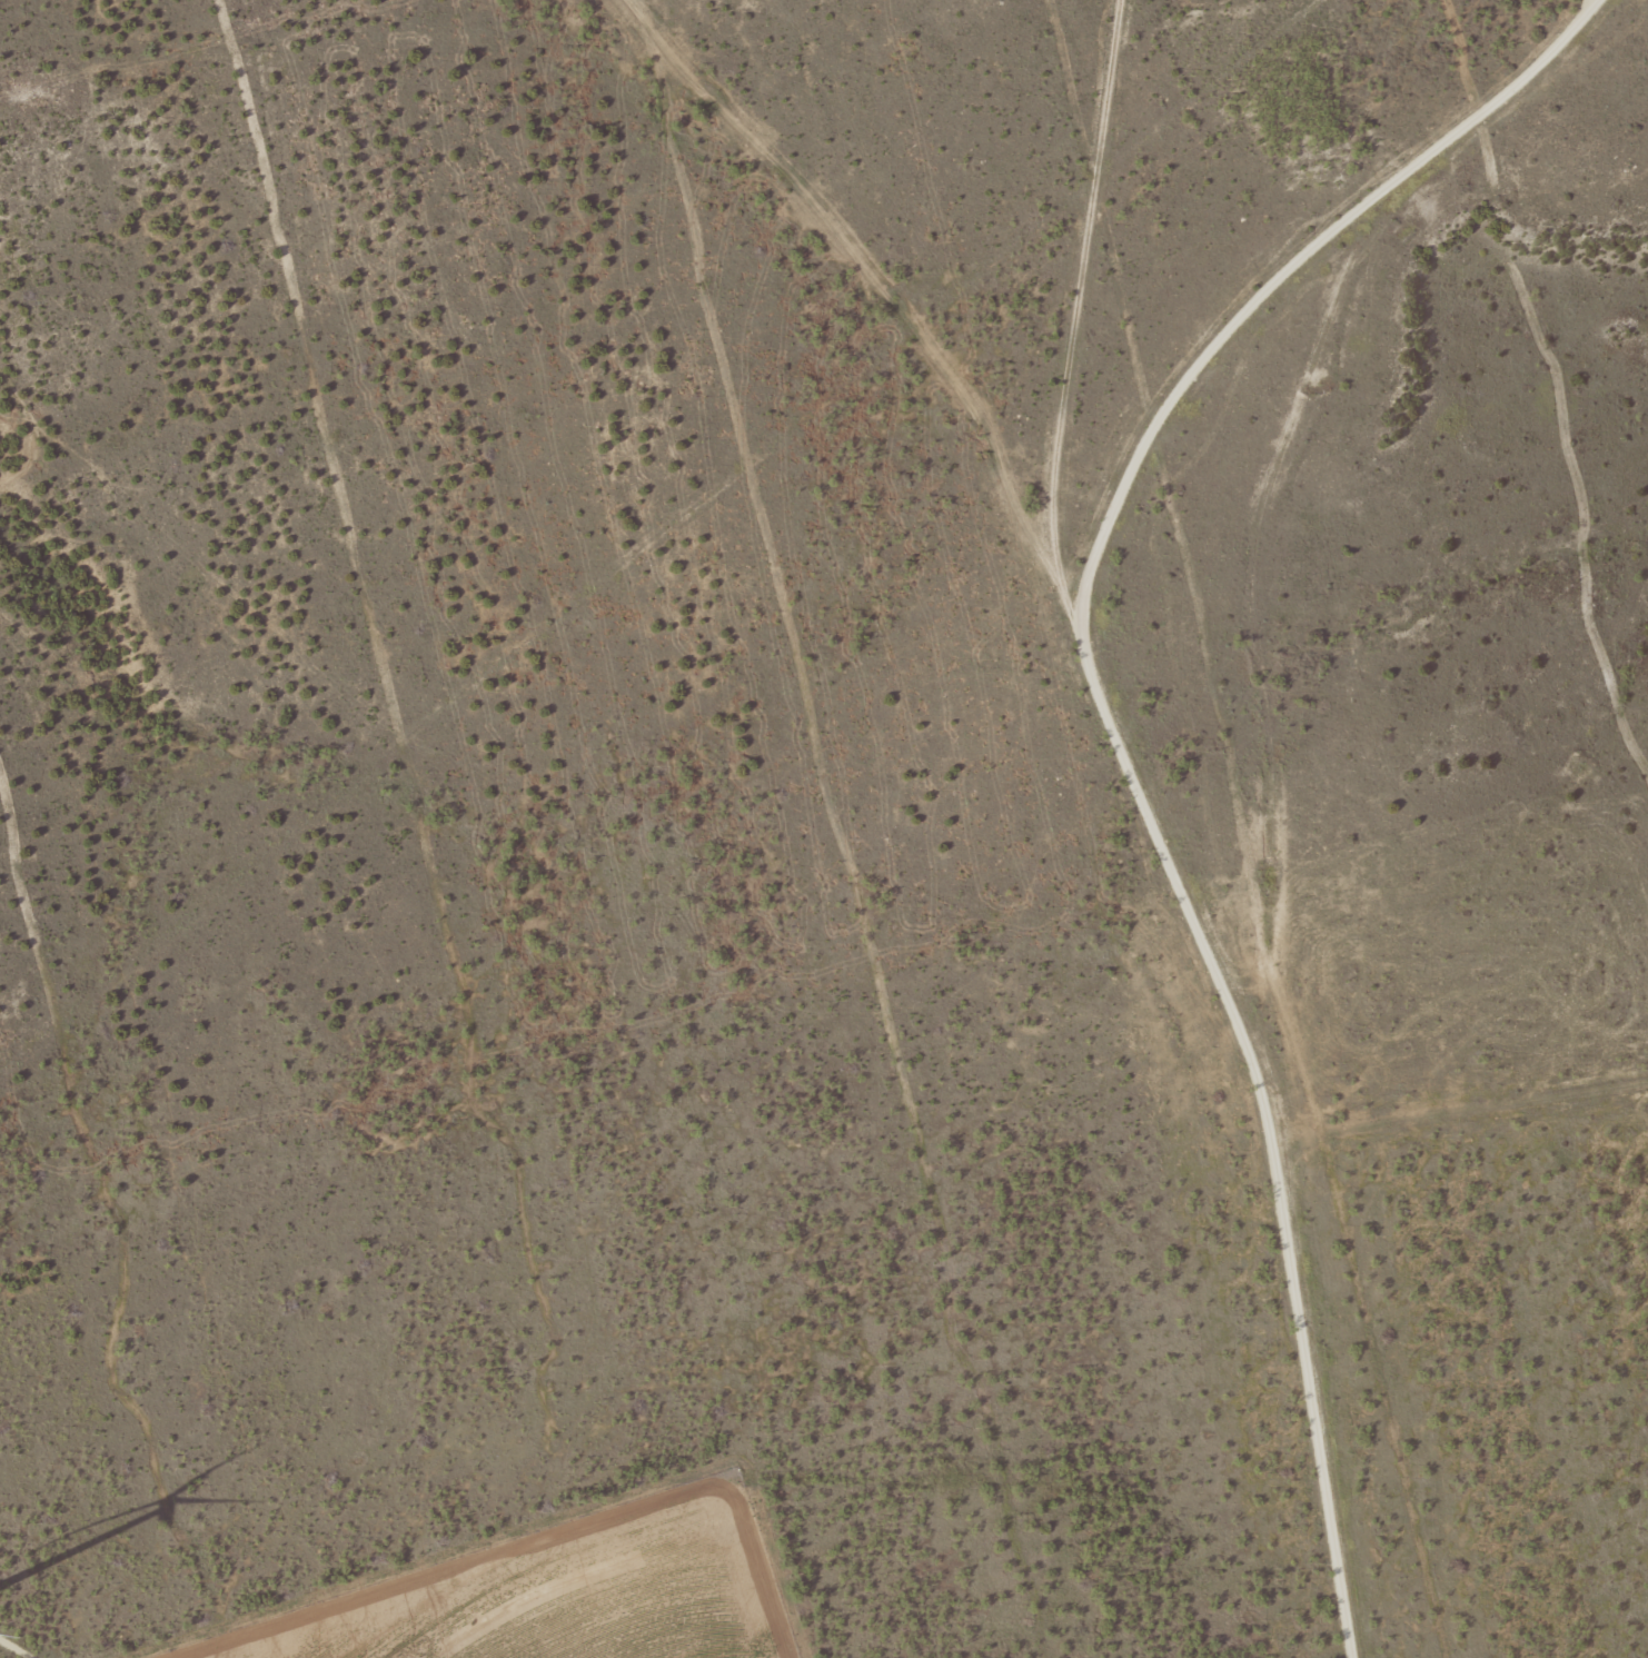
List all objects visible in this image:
road: (1058, 266)
road: (1288, 423)
road: (1105, 776)

